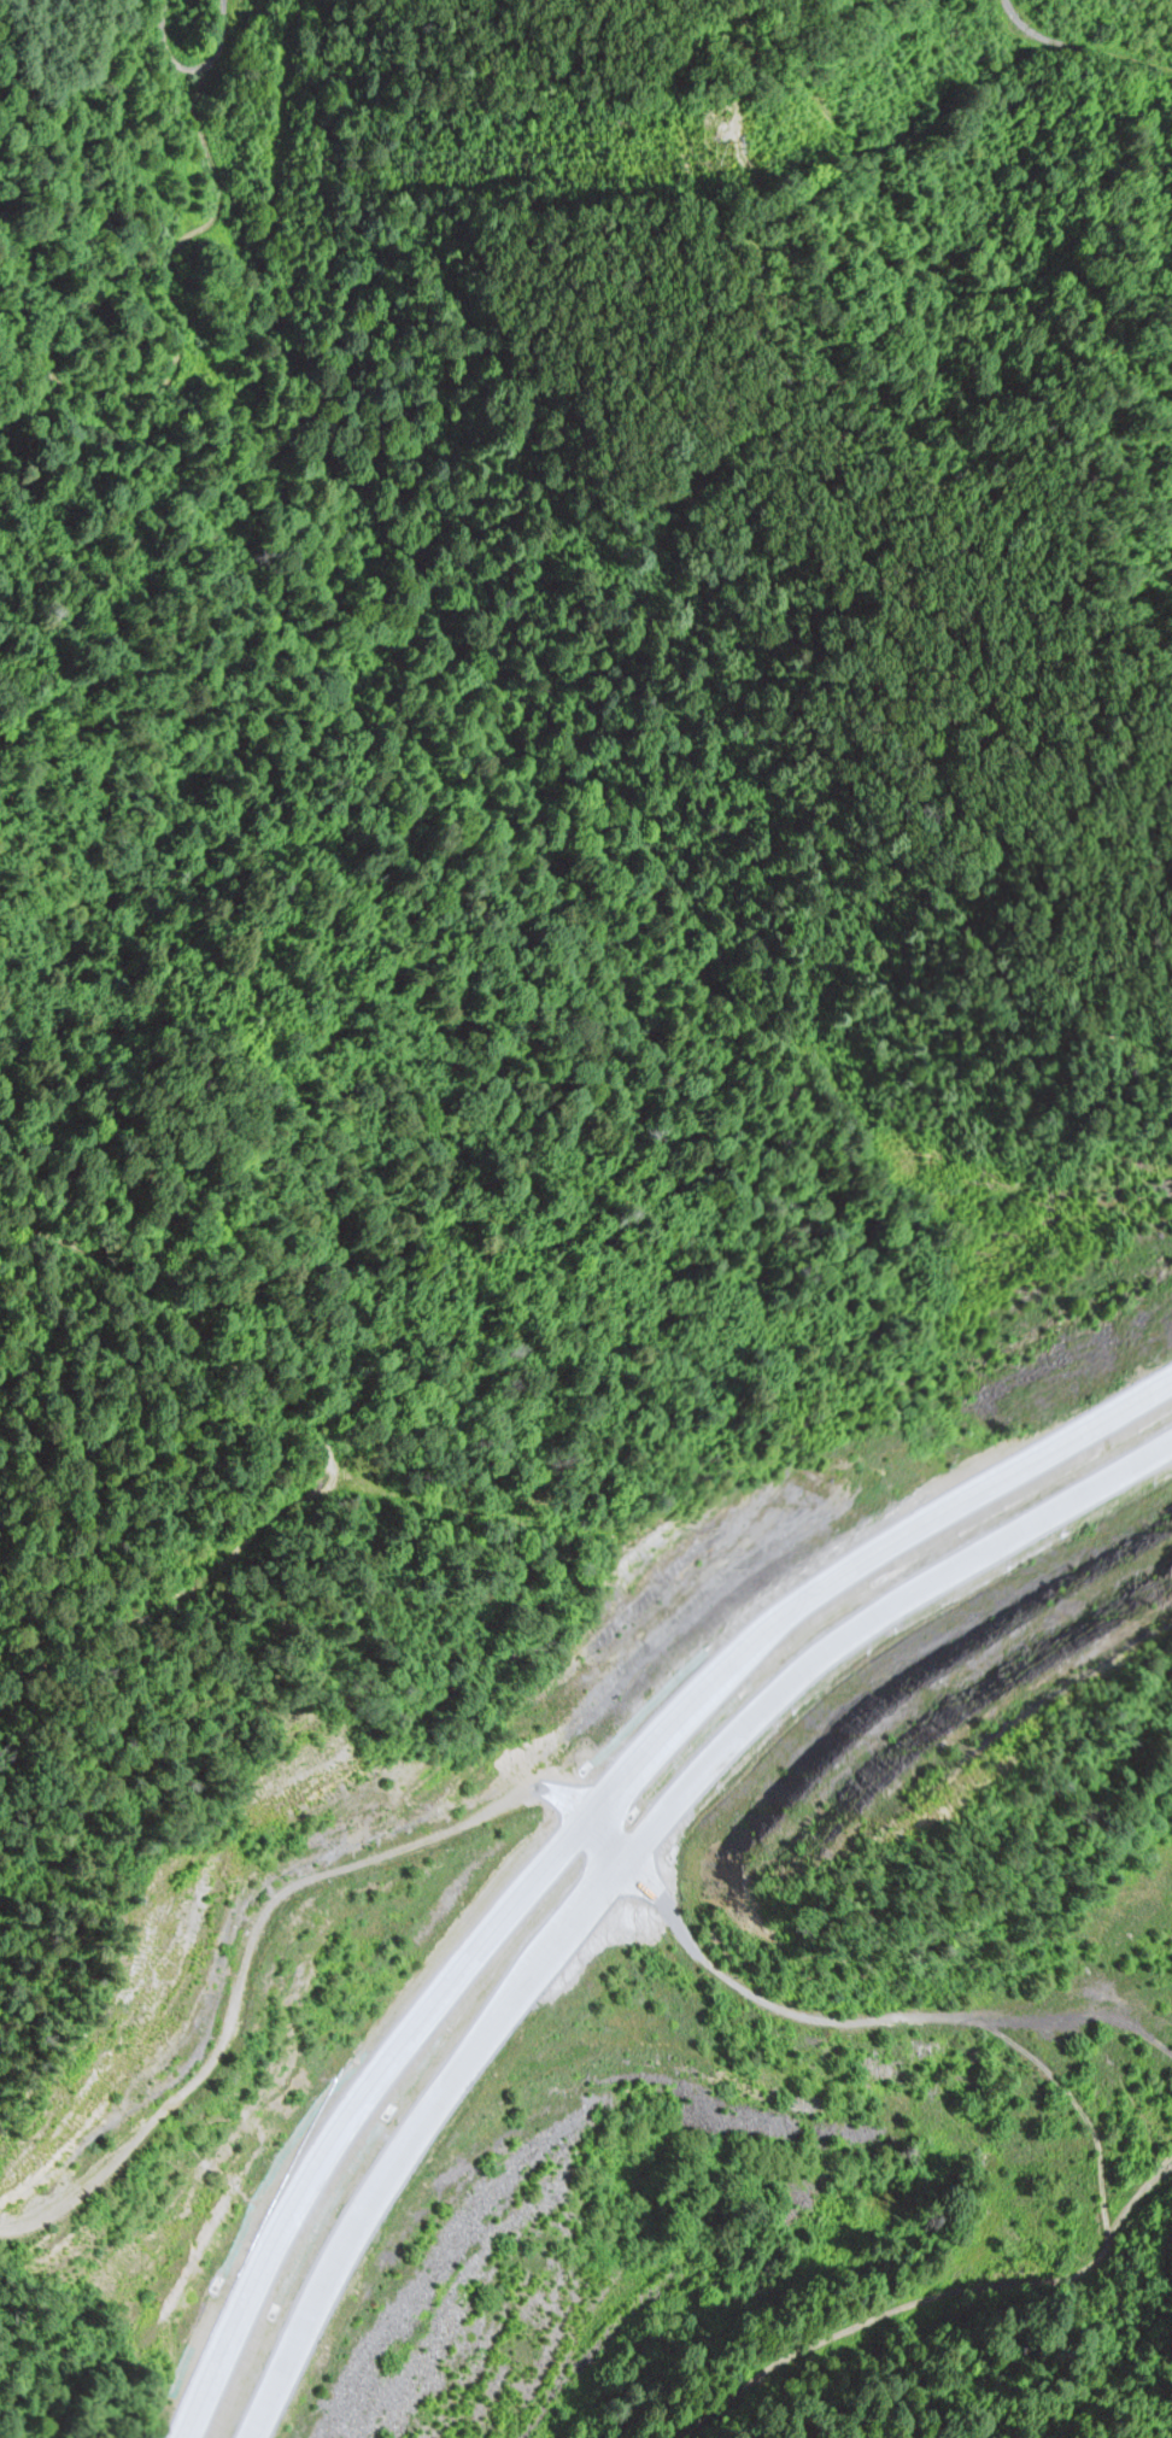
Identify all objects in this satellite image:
road: (219, 49)
road: (1078, 54)
road: (182, 313)
road: (322, 1463)
road: (586, 1830)
road: (626, 1865)
road: (245, 1938)
quarry: (805, 2062)

